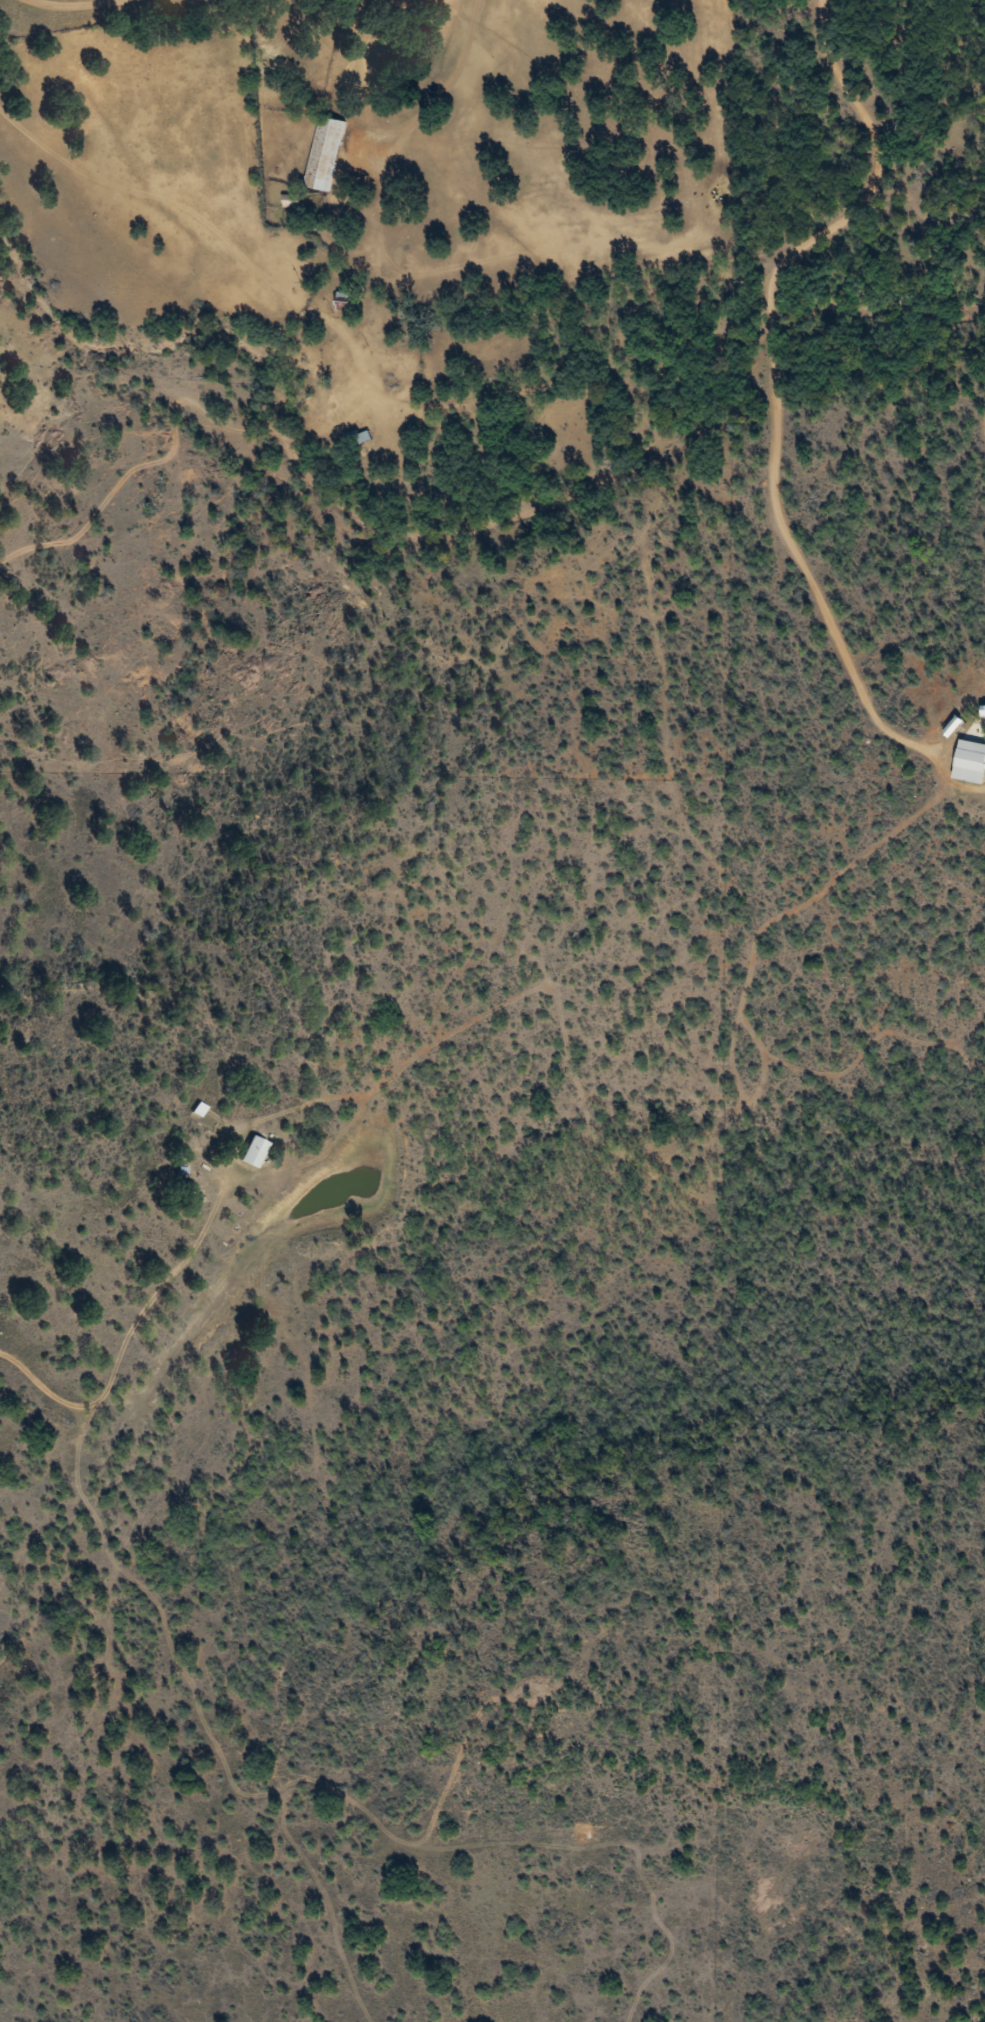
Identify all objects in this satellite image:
building: (325, 154)
building: (343, 301)
road: (549, 404)
building: (360, 438)
building: (970, 762)
building: (253, 1152)

